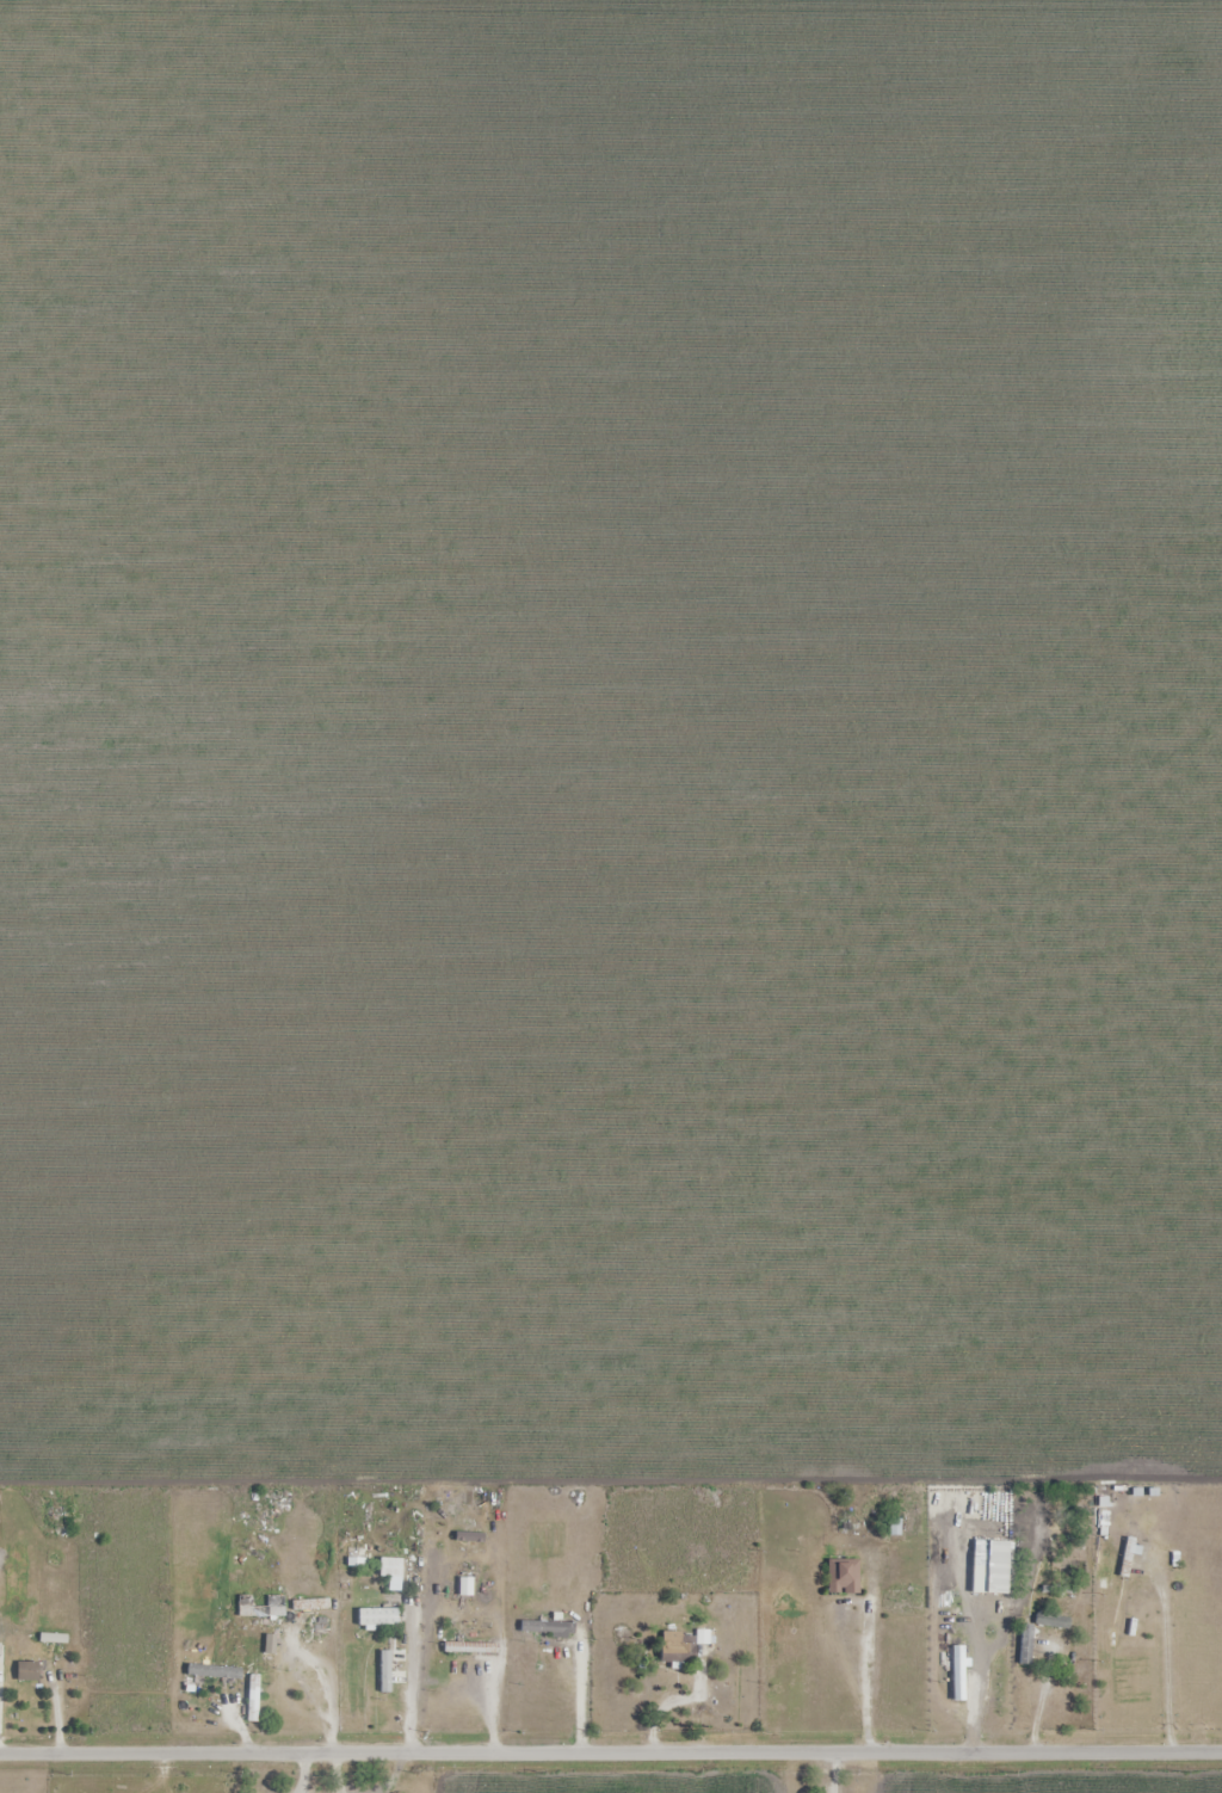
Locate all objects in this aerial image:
building: (1127, 1557)
building: (391, 1572)
building: (843, 1576)
building: (1059, 1589)
building: (905, 1602)
building: (255, 1608)
building: (377, 1616)
building: (1053, 1620)
building: (547, 1627)
building: (1025, 1644)
building: (674, 1646)
building: (470, 1647)
building: (26, 1670)
road: (316, 1684)
road: (580, 1694)
road: (610, 1751)

